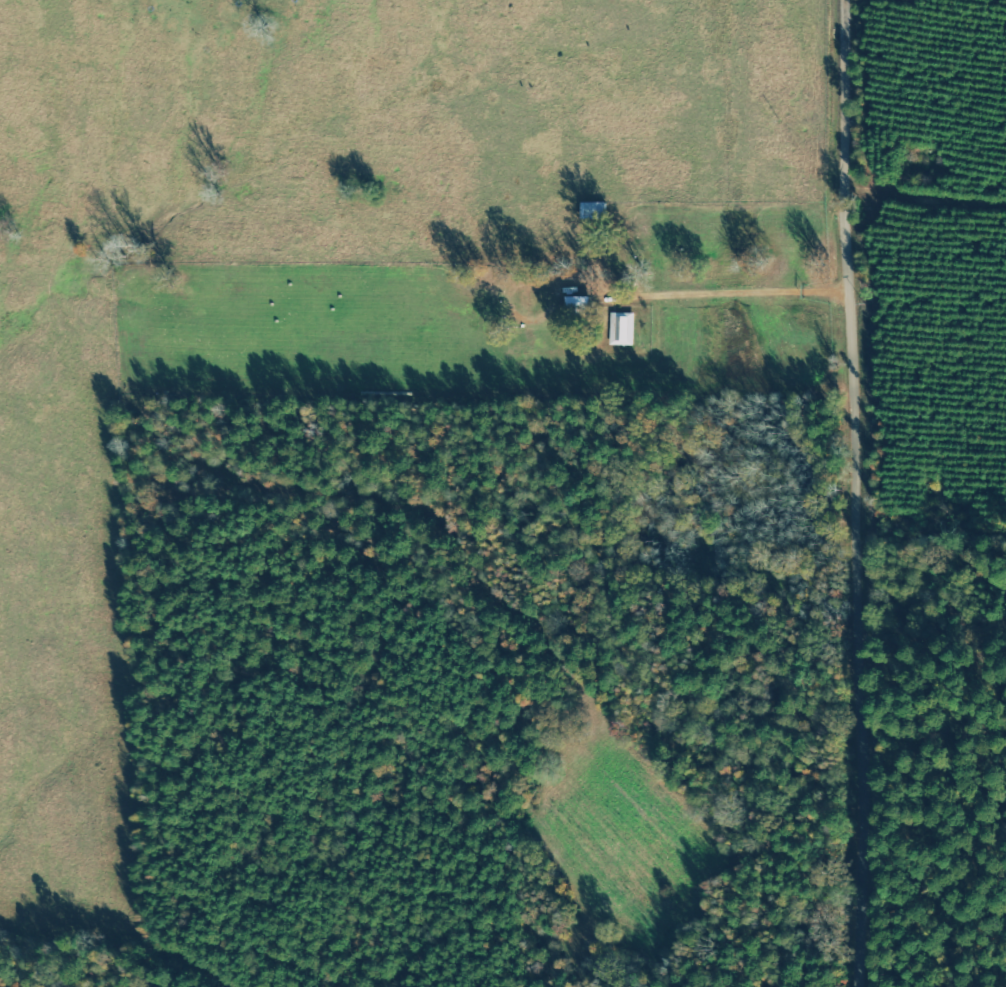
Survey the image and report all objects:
road: (723, 292)
road: (853, 493)

